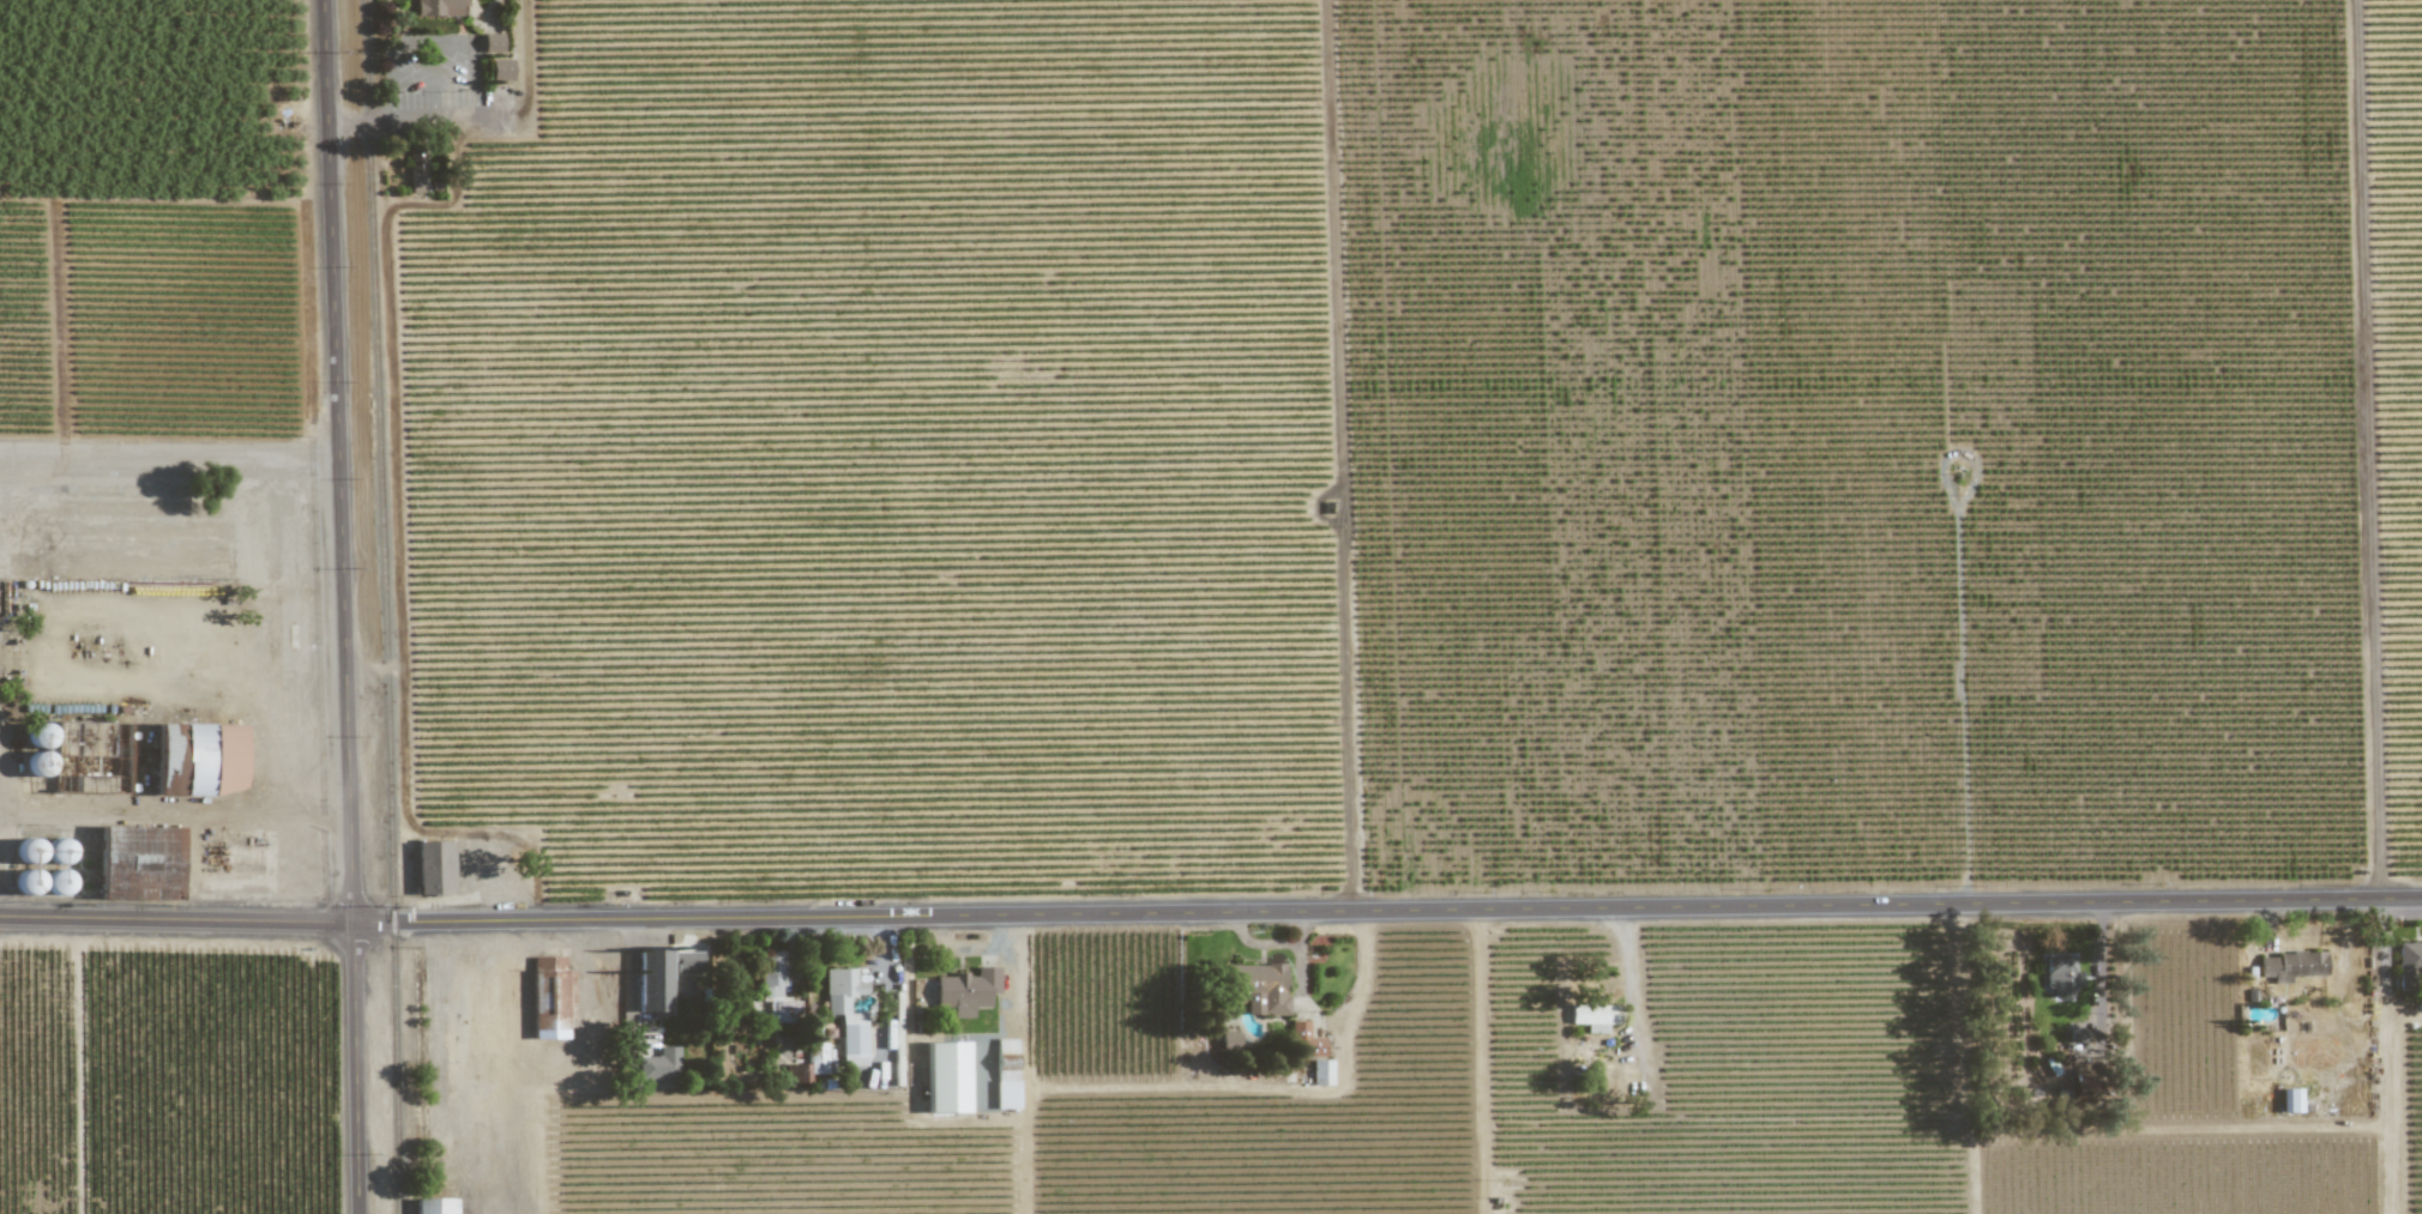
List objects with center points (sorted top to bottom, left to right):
building: (436, 7)
road: (430, 42)
building: (492, 42)
building: (500, 67)
road: (478, 76)
road: (435, 78)
road: (392, 86)
road: (405, 117)
building: (416, 173)
road: (343, 606)
road: (272, 681)
building: (199, 757)
road: (97, 814)
building: (433, 866)
building: (24, 881)
building: (52, 881)
road: (1210, 912)
building: (686, 962)
building: (2291, 965)
building: (2409, 967)
road: (2384, 973)
building: (2060, 974)
building: (653, 979)
building: (683, 987)
building: (1261, 989)
building: (965, 991)
road: (1635, 991)
building: (775, 993)
building: (549, 997)
building: (847, 1013)
building: (1593, 1016)
building: (1299, 1027)
building: (1229, 1040)
building: (820, 1058)
building: (659, 1065)
building: (796, 1071)
building: (1320, 1071)
building: (1005, 1073)
building: (945, 1076)
building: (2081, 1086)
building: (2290, 1099)
road: (2385, 1117)
building: (434, 1206)

